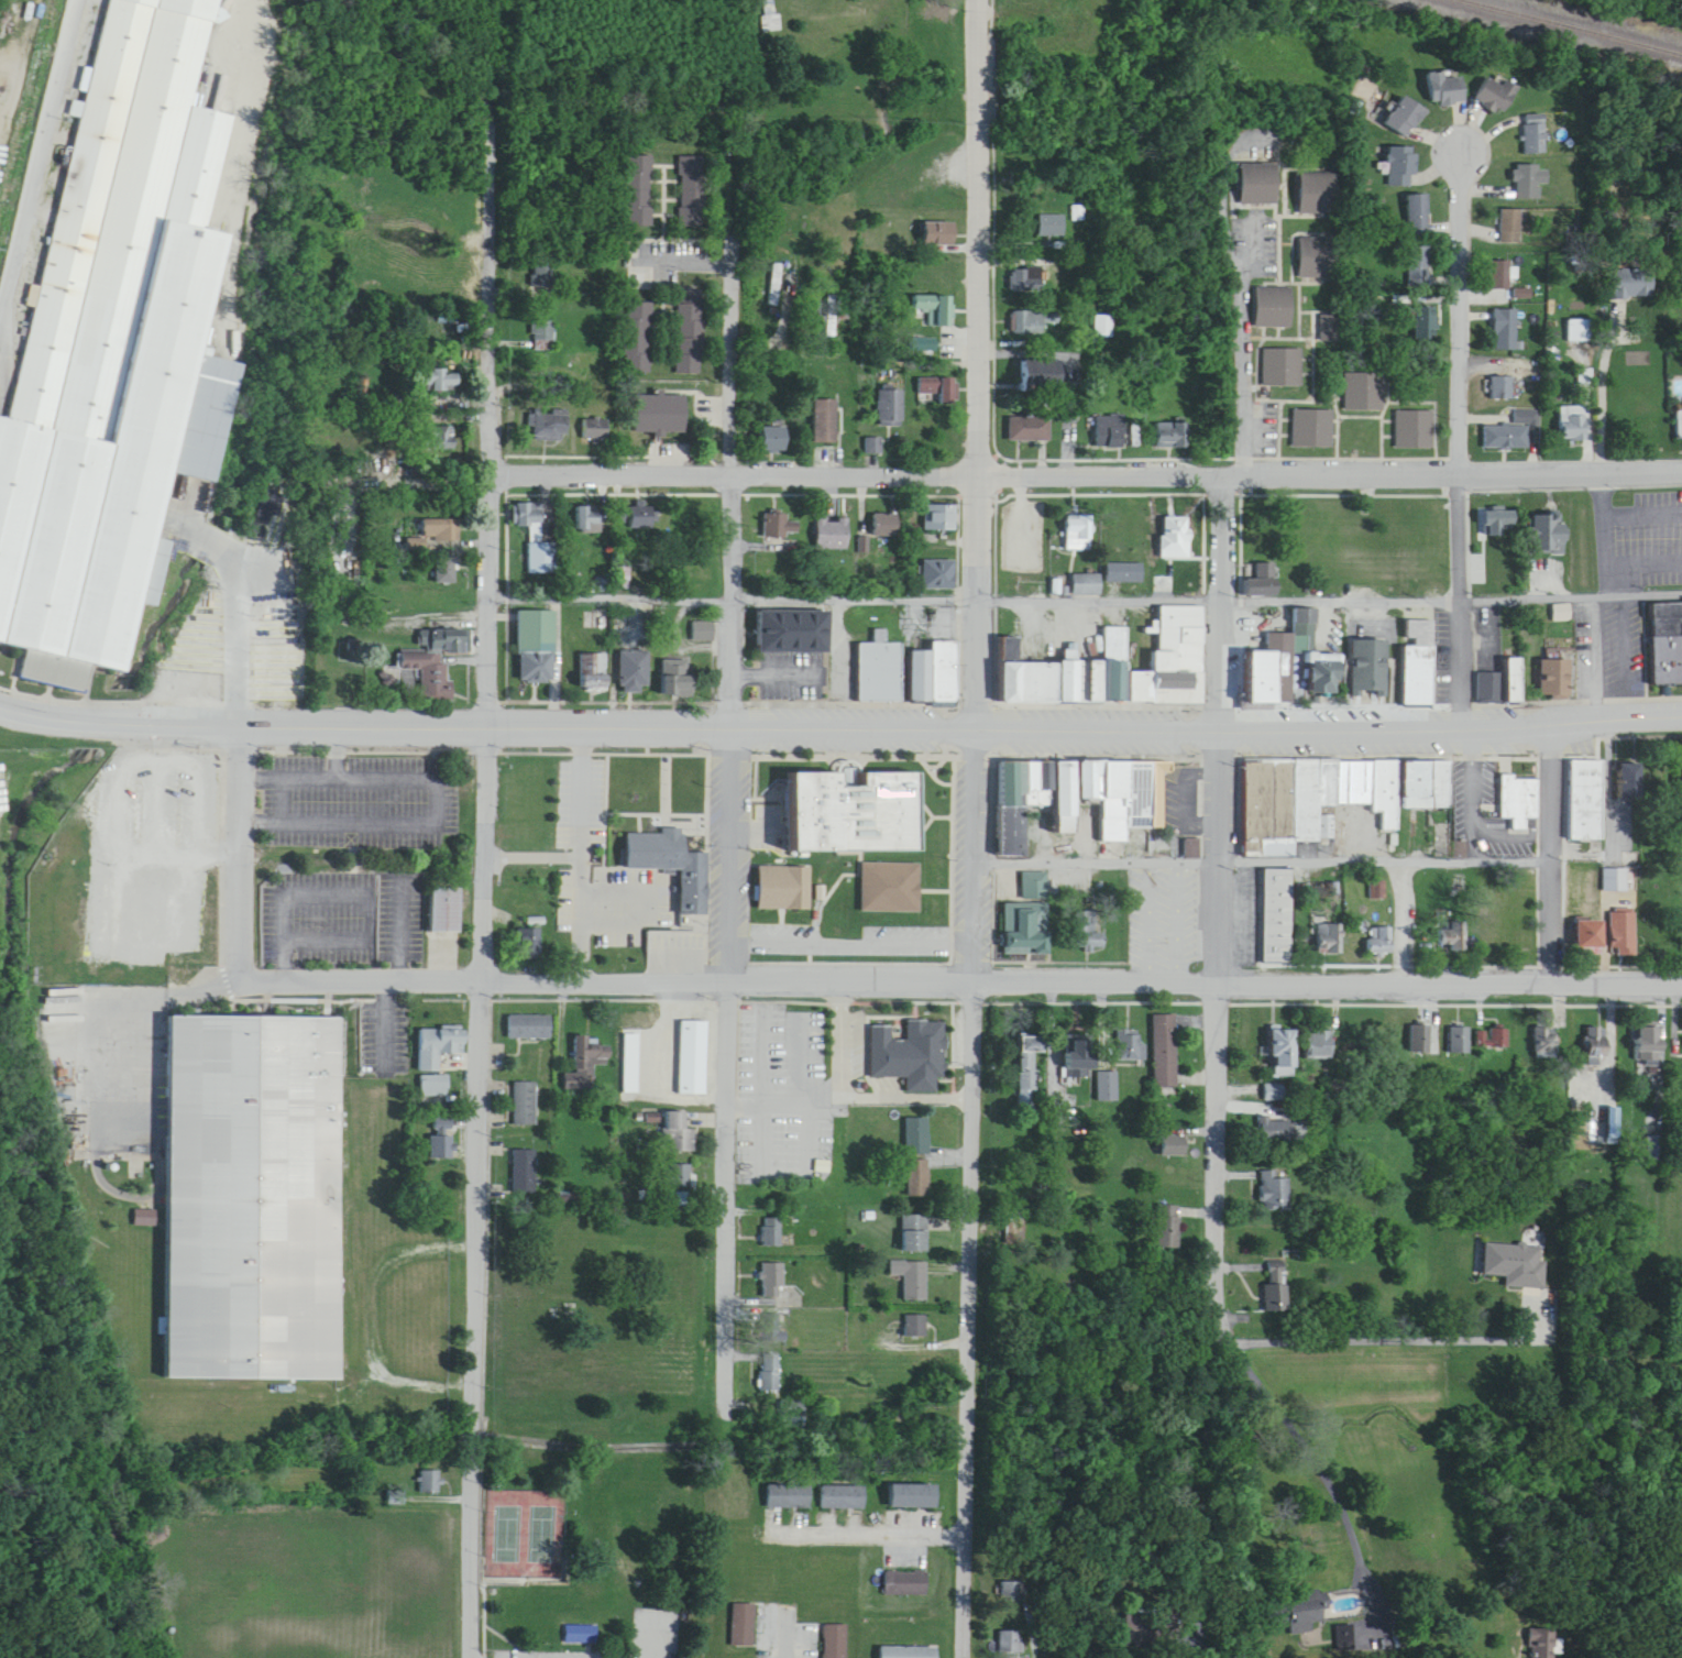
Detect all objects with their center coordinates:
building: (770, 15)
railway: (1595, 21)
building: (1447, 89)
building: (1496, 95)
building: (1405, 118)
building: (1535, 134)
road: (36, 142)
building: (1401, 167)
building: (1529, 182)
building: (1258, 185)
building: (639, 190)
building: (693, 191)
building: (1318, 194)
building: (1078, 213)
building: (1419, 215)
building: (1052, 226)
building: (1510, 227)
building: (938, 235)
building: (1318, 257)
building: (1419, 266)
road: (692, 270)
building: (1500, 275)
building: (542, 277)
building: (1027, 284)
building: (1630, 284)
road: (228, 288)
road: (781, 295)
building: (1274, 307)
building: (935, 309)
road: (1244, 319)
building: (1425, 321)
building: (1033, 322)
building: (1328, 327)
building: (1102, 328)
building: (1506, 330)
building: (1580, 331)
building: (691, 332)
building: (114, 337)
building: (542, 337)
building: (639, 338)
road: (985, 363)
building: (1283, 367)
building: (1042, 375)
road: (1606, 378)
building: (439, 381)
building: (1502, 388)
building: (937, 392)
building: (1364, 392)
road: (492, 407)
building: (891, 408)
building: (660, 415)
building: (825, 421)
building: (1574, 424)
building: (550, 426)
building: (1679, 426)
building: (1030, 429)
building: (1313, 429)
building: (1416, 429)
building: (596, 430)
building: (1110, 432)
road: (1469, 435)
building: (1173, 436)
building: (1507, 437)
building: (442, 439)
building: (774, 440)
road: (1242, 446)
road: (510, 453)
road: (1240, 463)
road: (1107, 464)
road: (1466, 464)
road: (1004, 468)
road: (738, 475)
road: (1575, 475)
road: (1098, 481)
road: (730, 499)
building: (642, 517)
building: (941, 517)
building: (587, 523)
building: (884, 524)
building: (1499, 524)
building: (780, 526)
road: (1247, 526)
building: (439, 529)
building: (1078, 532)
building: (832, 534)
building: (1548, 535)
building: (1175, 538)
building: (536, 539)
building: (446, 571)
building: (1124, 573)
building: (938, 574)
parking lot: (1628, 575)
building: (622, 578)
road: (1208, 579)
road: (1478, 579)
building: (1263, 582)
building: (1086, 584)
road: (1207, 590)
road: (1223, 595)
road: (611, 597)
building: (1562, 613)
building: (1663, 628)
building: (702, 630)
building: (794, 632)
road: (220, 643)
building: (537, 647)
building: (435, 661)
building: (1294, 666)
building: (1370, 668)
building: (1119, 669)
building: (879, 670)
building: (633, 671)
building: (593, 672)
building: (1418, 676)
building: (1555, 679)
building: (677, 680)
building: (1515, 681)
building: (1488, 689)
road: (1087, 693)
road: (1328, 724)
road: (485, 726)
road: (971, 742)
road: (934, 751)
road: (942, 751)
road: (935, 760)
road: (671, 776)
road: (262, 777)
building: (1076, 781)
building: (1332, 781)
building: (1516, 784)
building: (1587, 784)
park: (936, 790)
building: (845, 795)
road: (663, 801)
road: (934, 802)
road: (1476, 806)
road: (1514, 808)
road: (644, 810)
road: (928, 814)
road: (262, 815)
road: (404, 820)
road: (612, 825)
building: (1195, 834)
road: (1555, 844)
road: (242, 845)
road: (715, 845)
road: (578, 846)
road: (1568, 847)
building: (1192, 848)
road: (1541, 848)
building: (677, 849)
road: (1098, 852)
road: (534, 853)
road: (1388, 853)
building: (1615, 866)
building: (1036, 870)
building: (889, 871)
building: (1334, 872)
building: (787, 874)
building: (1377, 875)
building: (446, 896)
road: (956, 901)
building: (1276, 901)
building: (1360, 910)
road: (1156, 911)
parking lot: (1176, 911)
road: (1184, 911)
road: (1399, 912)
building: (1025, 913)
building: (1087, 914)
building: (1619, 916)
building: (1584, 919)
building: (1449, 921)
building: (1327, 923)
building: (1377, 925)
building: (531, 926)
road: (853, 929)
building: (1087, 932)
building: (1625, 934)
building: (1593, 935)
building: (1453, 937)
building: (1330, 940)
building: (1381, 942)
building: (529, 944)
road: (1207, 951)
road: (607, 967)
road: (1097, 969)
road: (1450, 973)
road: (960, 989)
road: (100, 1007)
building: (1415, 1023)
building: (1491, 1023)
building: (1456, 1024)
building: (529, 1026)
building: (1592, 1026)
building: (1315, 1029)
building: (1543, 1029)
building: (1643, 1030)
building: (1125, 1031)
building: (437, 1032)
building: (1276, 1033)
building: (1162, 1034)
road: (1218, 1036)
building: (1420, 1037)
building: (1460, 1037)
building: (1493, 1037)
building: (905, 1040)
building: (693, 1041)
building: (816, 1042)
building: (1074, 1042)
building: (1548, 1043)
building: (1320, 1044)
building: (1598, 1045)
building: (1651, 1046)
building: (640, 1047)
building: (1284, 1047)
building: (1021, 1062)
road: (732, 1064)
building: (583, 1067)
building: (437, 1070)
building: (1106, 1072)
road: (804, 1080)
parking lot: (785, 1081)
road: (845, 1081)
road: (909, 1084)
building: (436, 1085)
building: (1275, 1092)
road: (766, 1098)
building: (526, 1102)
building: (1268, 1112)
building: (1167, 1127)
building: (1279, 1128)
building: (680, 1132)
building: (917, 1135)
building: (443, 1140)
building: (1657, 1146)
building: (1174, 1149)
building: (525, 1171)
building: (681, 1174)
building: (1271, 1174)
building: (919, 1177)
building: (251, 1183)
road: (477, 1192)
road: (971, 1192)
building: (1276, 1192)
building: (1165, 1209)
building: (772, 1231)
building: (915, 1232)
park: (617, 1244)
building: (1511, 1248)
building: (1275, 1267)
building: (913, 1278)
building: (773, 1280)
building: (1279, 1288)
road: (1531, 1315)
building: (916, 1326)
road: (1379, 1338)
building: (772, 1372)
road: (1329, 1462)
building: (908, 1481)
building: (430, 1482)
building: (784, 1482)
building: (837, 1483)
building: (912, 1495)
building: (787, 1496)
building: (842, 1497)
park: (532, 1520)
road: (872, 1536)
park: (586, 1545)
building: (905, 1567)
building: (906, 1583)
building: (1008, 1591)
building: (1296, 1592)
building: (739, 1607)
building: (1295, 1612)
parking lot: (661, 1617)
building: (745, 1624)
building: (832, 1629)
building: (1144, 1630)
building: (581, 1634)
road: (656, 1634)
building: (1008, 1640)
building: (905, 1641)
building: (1540, 1643)
building: (739, 1651)
building: (909, 1651)

